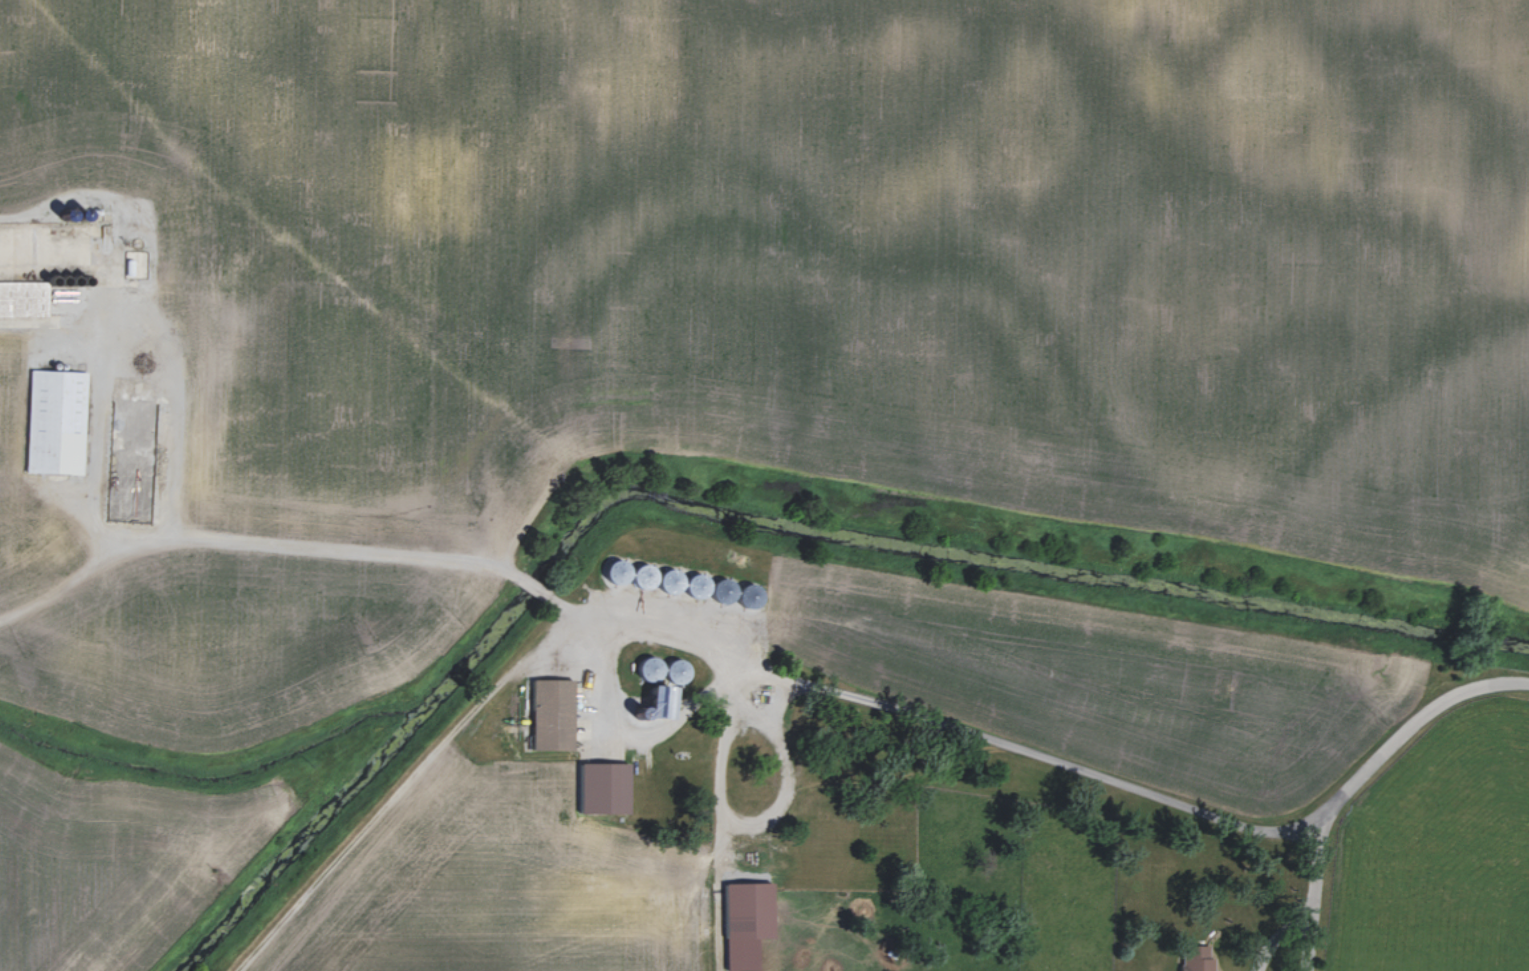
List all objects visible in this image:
building: (26, 300)
road: (135, 338)
building: (62, 422)
road: (669, 629)
building: (560, 715)
road: (1416, 724)
road: (722, 750)
building: (612, 789)
road: (1319, 891)
road: (700, 892)

